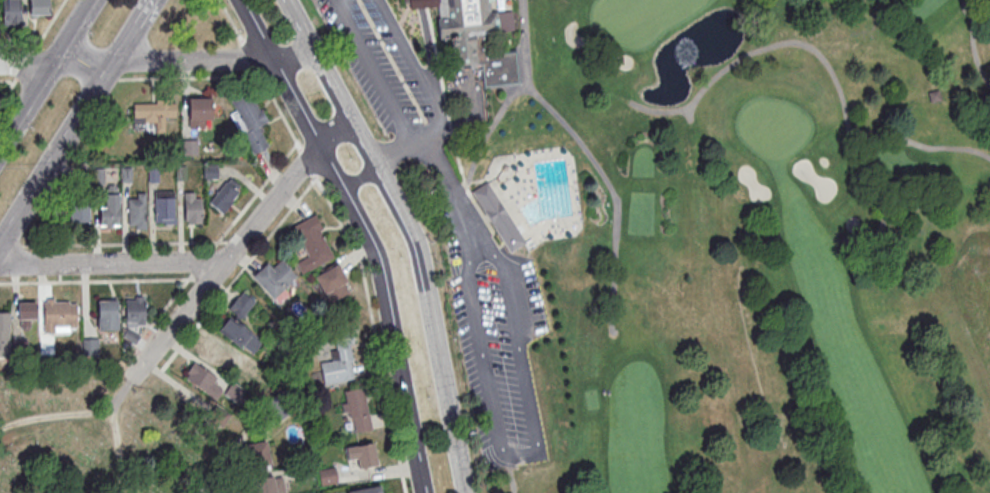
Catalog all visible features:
road: (409, 1)
road: (417, 3)
building: (419, 3)
road: (425, 3)
building: (40, 7)
road: (965, 9)
road: (144, 11)
building: (11, 12)
road: (404, 12)
road: (231, 20)
building: (505, 20)
road: (394, 23)
road: (297, 24)
road: (48, 25)
road: (501, 30)
building: (471, 40)
road: (972, 43)
road: (18, 46)
road: (248, 54)
road: (821, 56)
road: (429, 57)
road: (291, 58)
road: (135, 61)
road: (24, 63)
parking lot: (380, 64)
road: (45, 73)
road: (188, 77)
road: (111, 78)
road: (7, 81)
road: (8, 90)
road: (341, 105)
road: (277, 109)
building: (199, 111)
building: (151, 114)
building: (249, 120)
road: (489, 130)
road: (332, 132)
road: (68, 133)
road: (452, 133)
road: (857, 135)
road: (419, 138)
road: (918, 144)
building: (189, 146)
road: (392, 153)
road: (592, 158)
road: (306, 161)
road: (355, 176)
road: (516, 188)
road: (255, 195)
building: (224, 196)
building: (164, 206)
building: (109, 207)
building: (192, 207)
building: (136, 210)
building: (78, 213)
building: (498, 213)
road: (363, 234)
park: (702, 234)
road: (233, 242)
road: (124, 243)
building: (312, 243)
road: (11, 246)
road: (418, 260)
road: (204, 261)
road: (224, 261)
road: (112, 263)
road: (237, 274)
building: (274, 277)
road: (113, 280)
building: (332, 282)
road: (171, 299)
building: (241, 304)
road: (526, 308)
building: (26, 313)
building: (60, 313)
building: (107, 314)
building: (134, 315)
road: (373, 327)
building: (4, 334)
building: (239, 334)
parking lot: (496, 342)
building: (20, 345)
building: (90, 346)
building: (211, 352)
building: (339, 361)
building: (202, 379)
road: (176, 383)
building: (234, 391)
road: (119, 395)
building: (357, 409)
road: (53, 415)
road: (497, 427)
road: (451, 429)
park: (95, 436)
road: (118, 451)
building: (257, 454)
building: (366, 455)
building: (304, 473)
road: (229, 474)
building: (328, 476)
building: (268, 484)
building: (370, 490)
building: (312, 492)

